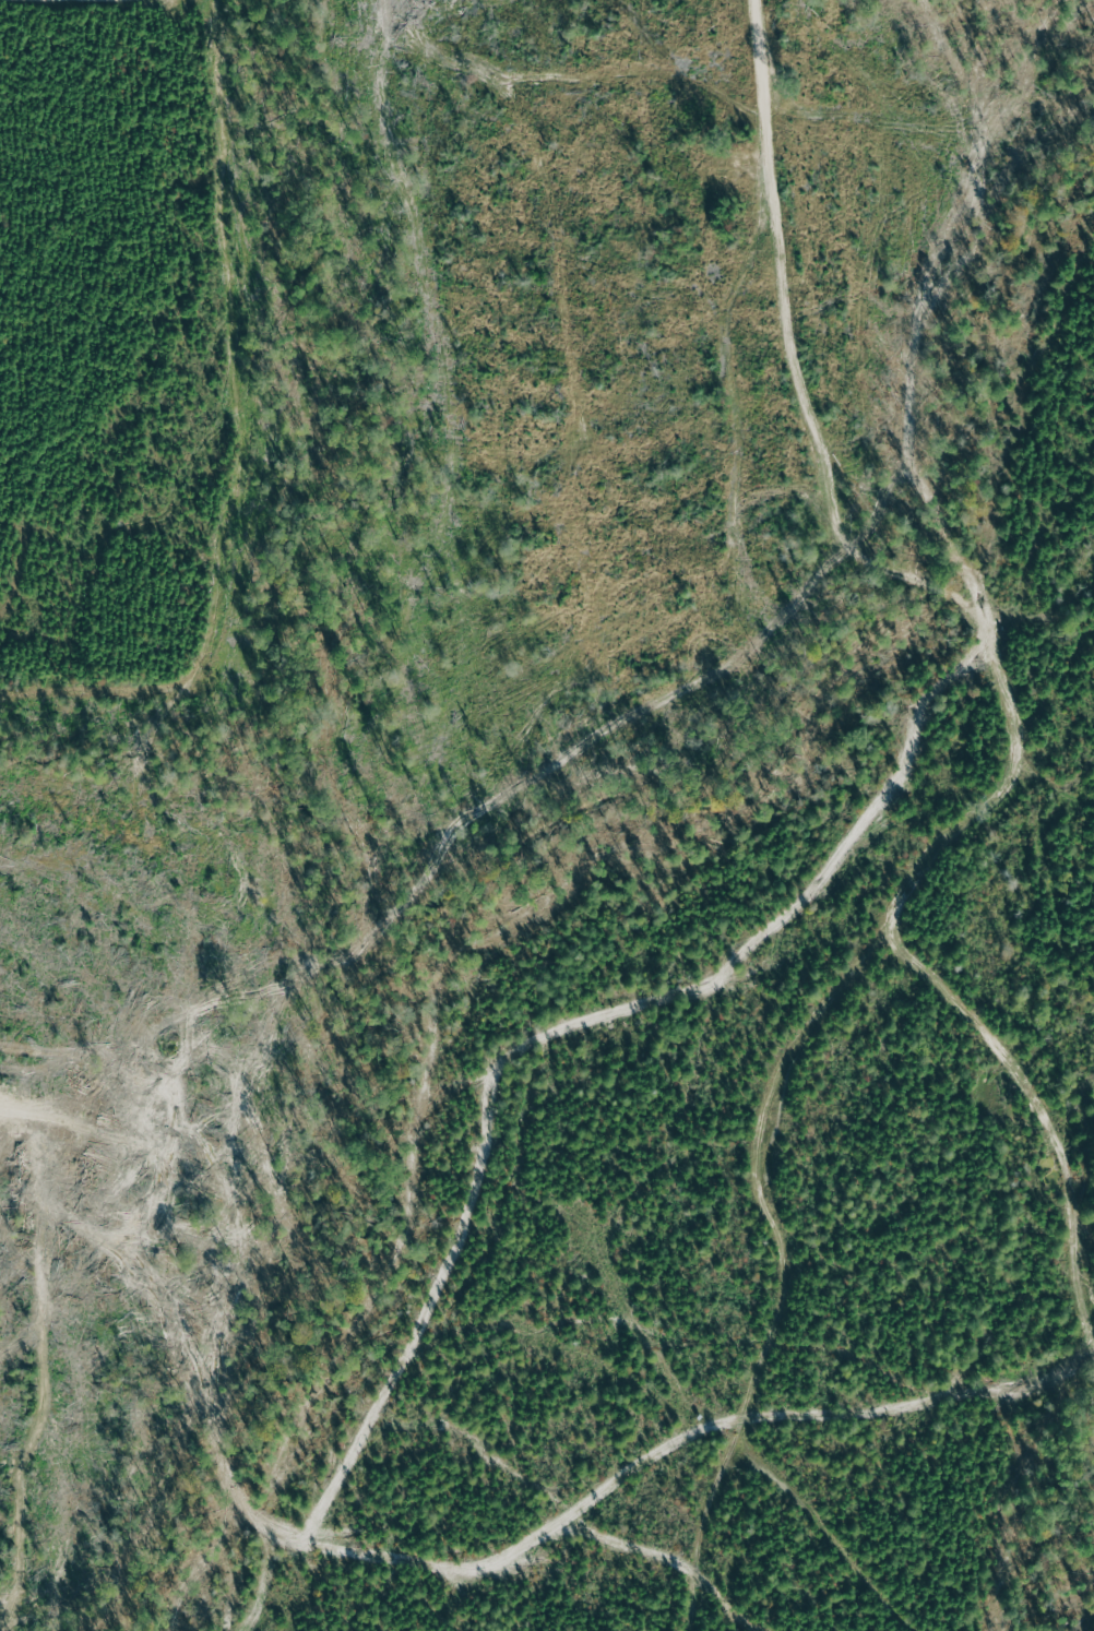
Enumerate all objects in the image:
road: (990, 670)

